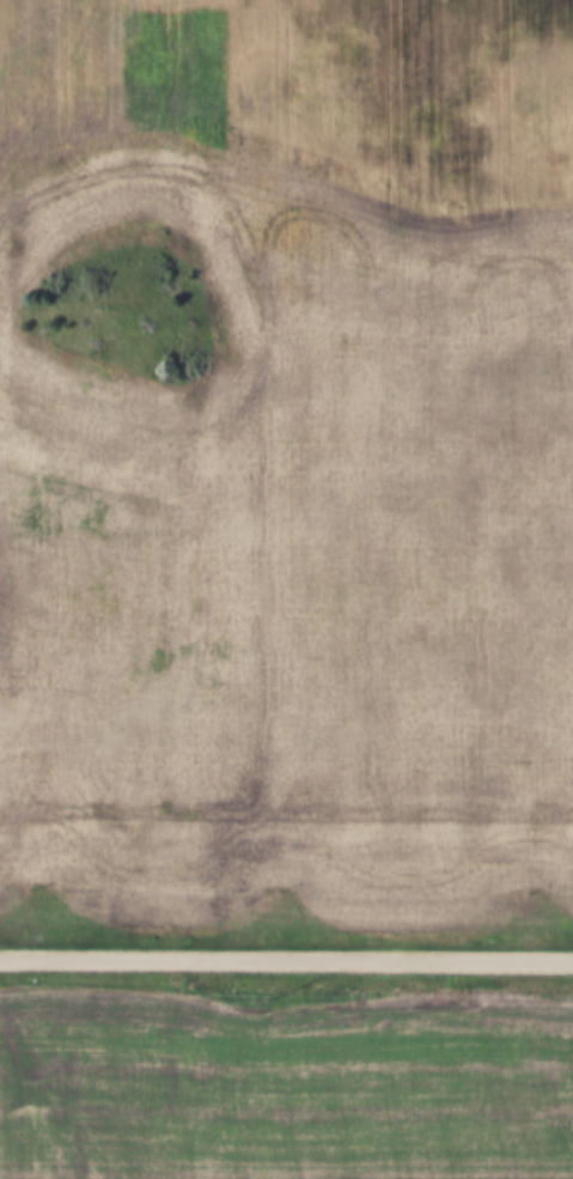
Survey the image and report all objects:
road: (286, 955)

